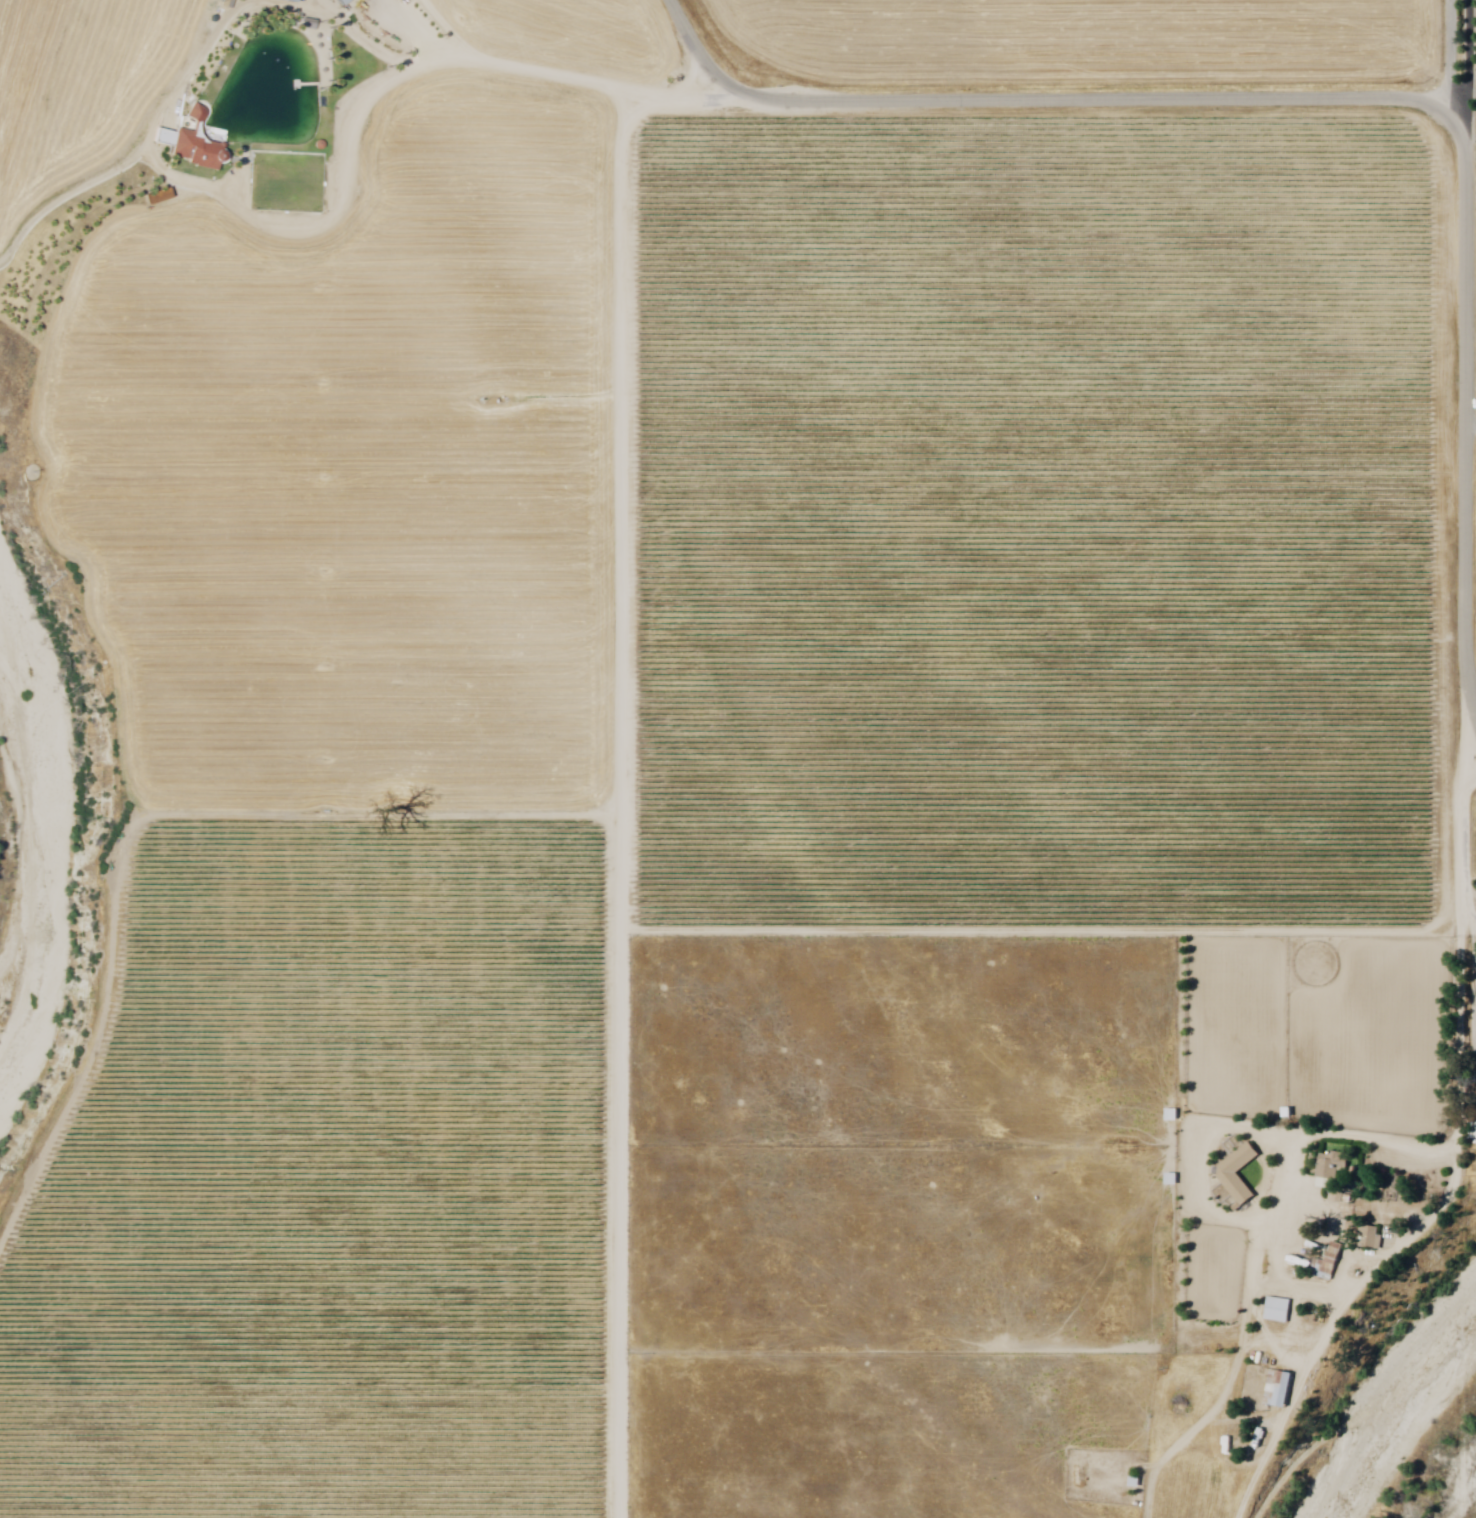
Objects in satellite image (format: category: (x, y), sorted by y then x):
building: (293, 0)
building: (345, 2)
crop: (569, 32)
road: (1450, 57)
road: (1470, 68)
road: (559, 75)
crop: (82, 93)
road: (1343, 99)
building: (194, 141)
crop: (357, 471)
crop: (1047, 528)
road: (617, 807)
river: (28, 851)
building: (1338, 1165)
building: (1230, 1175)
crop: (326, 1184)
building: (1371, 1237)
building: (1329, 1264)
building: (1281, 1309)
building: (1281, 1388)
river: (1416, 1432)

